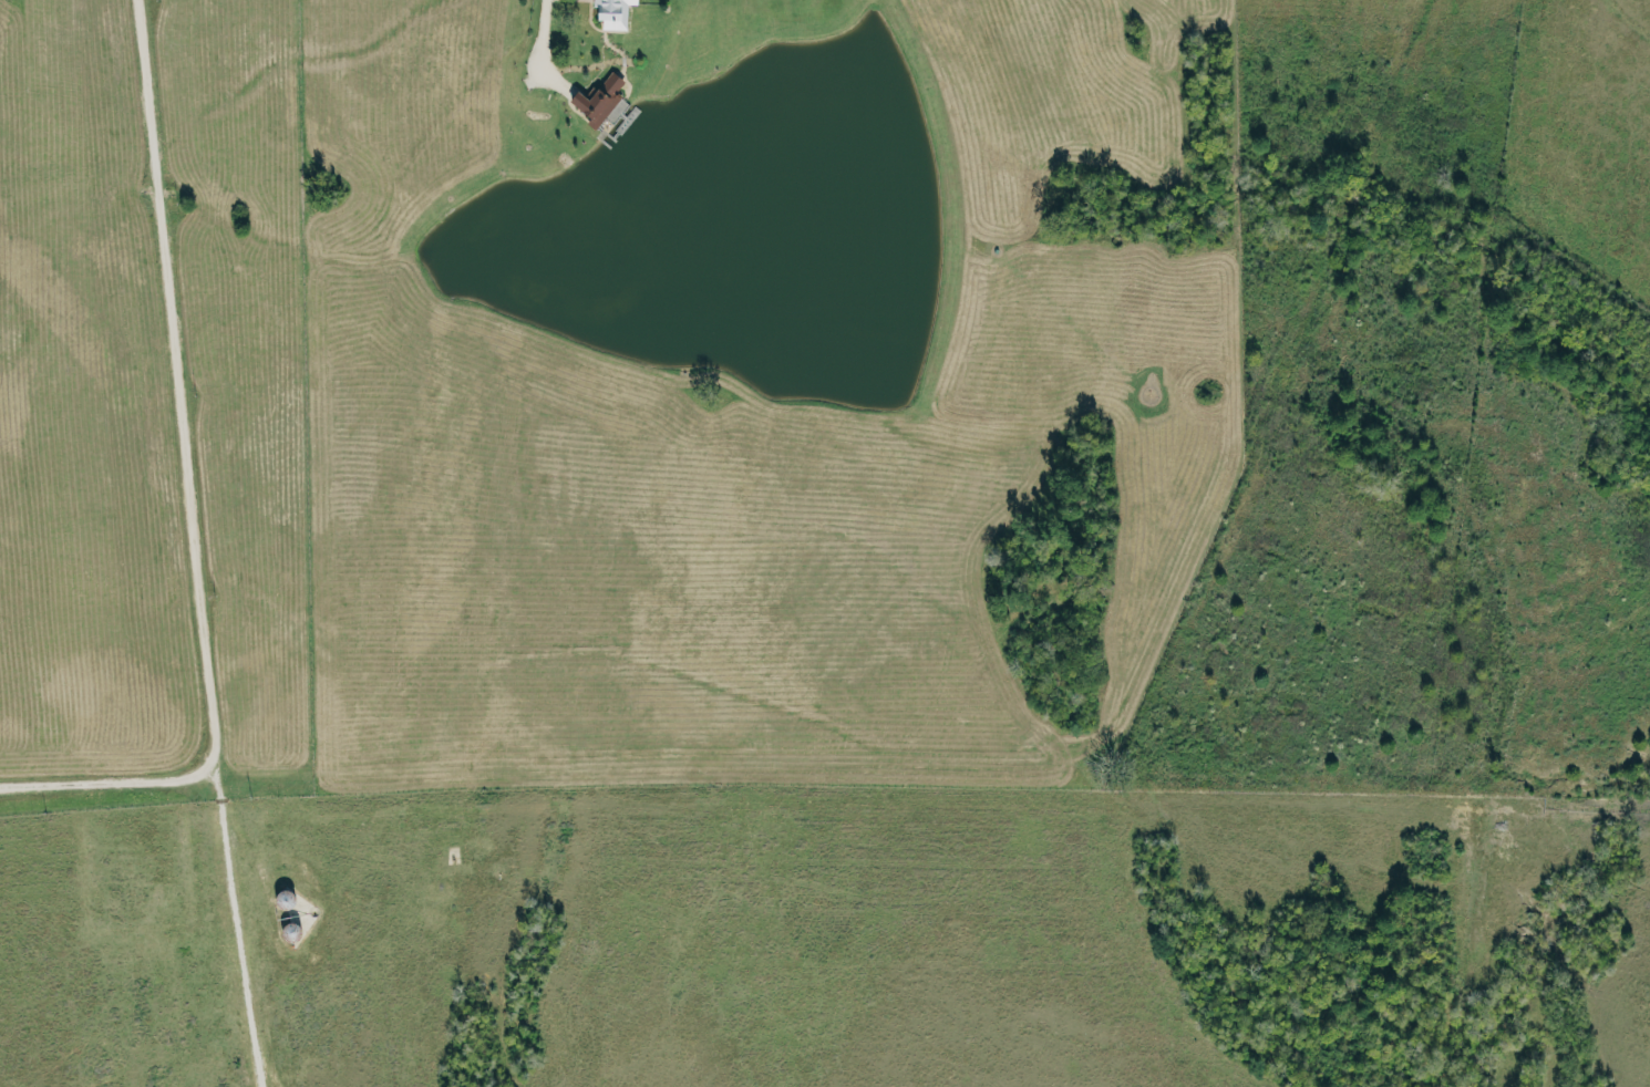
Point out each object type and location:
building: (611, 13)
building: (600, 102)
road: (192, 545)
road: (106, 784)

